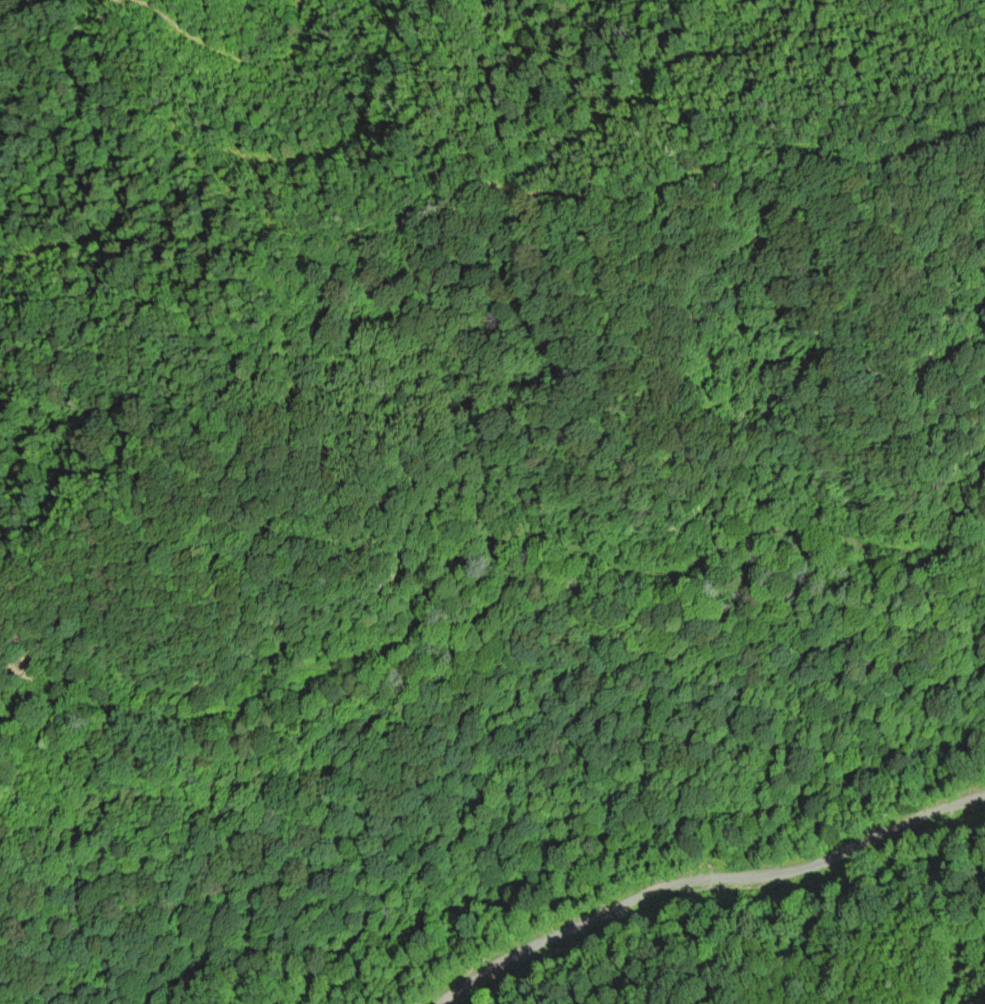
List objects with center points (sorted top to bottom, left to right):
road: (702, 882)

